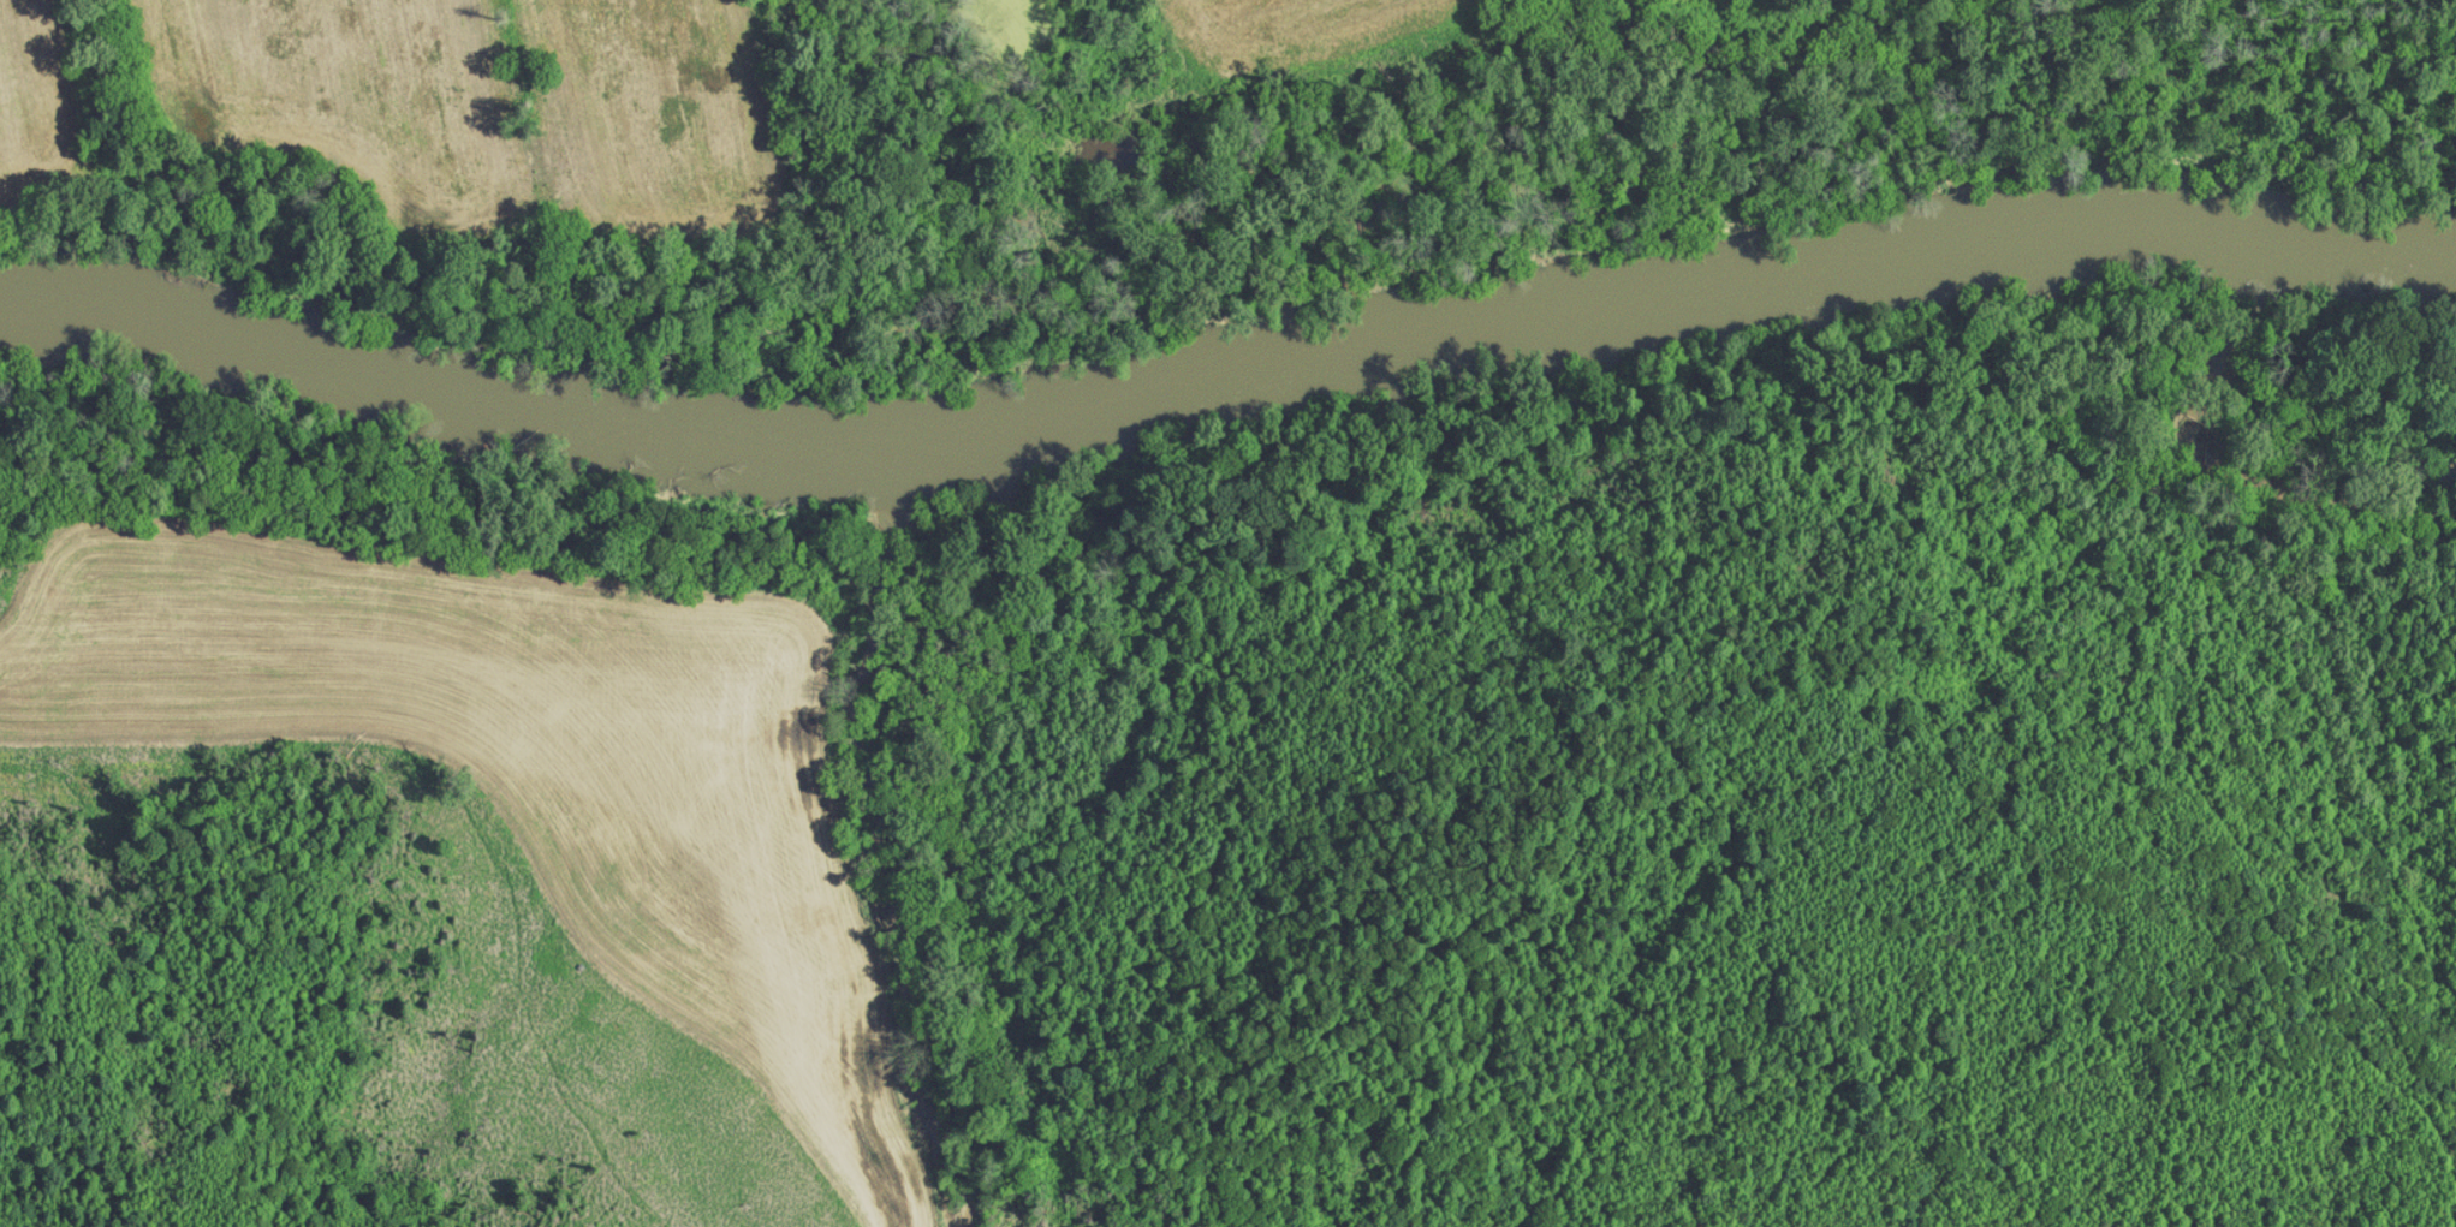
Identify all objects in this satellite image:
river: (1225, 376)

